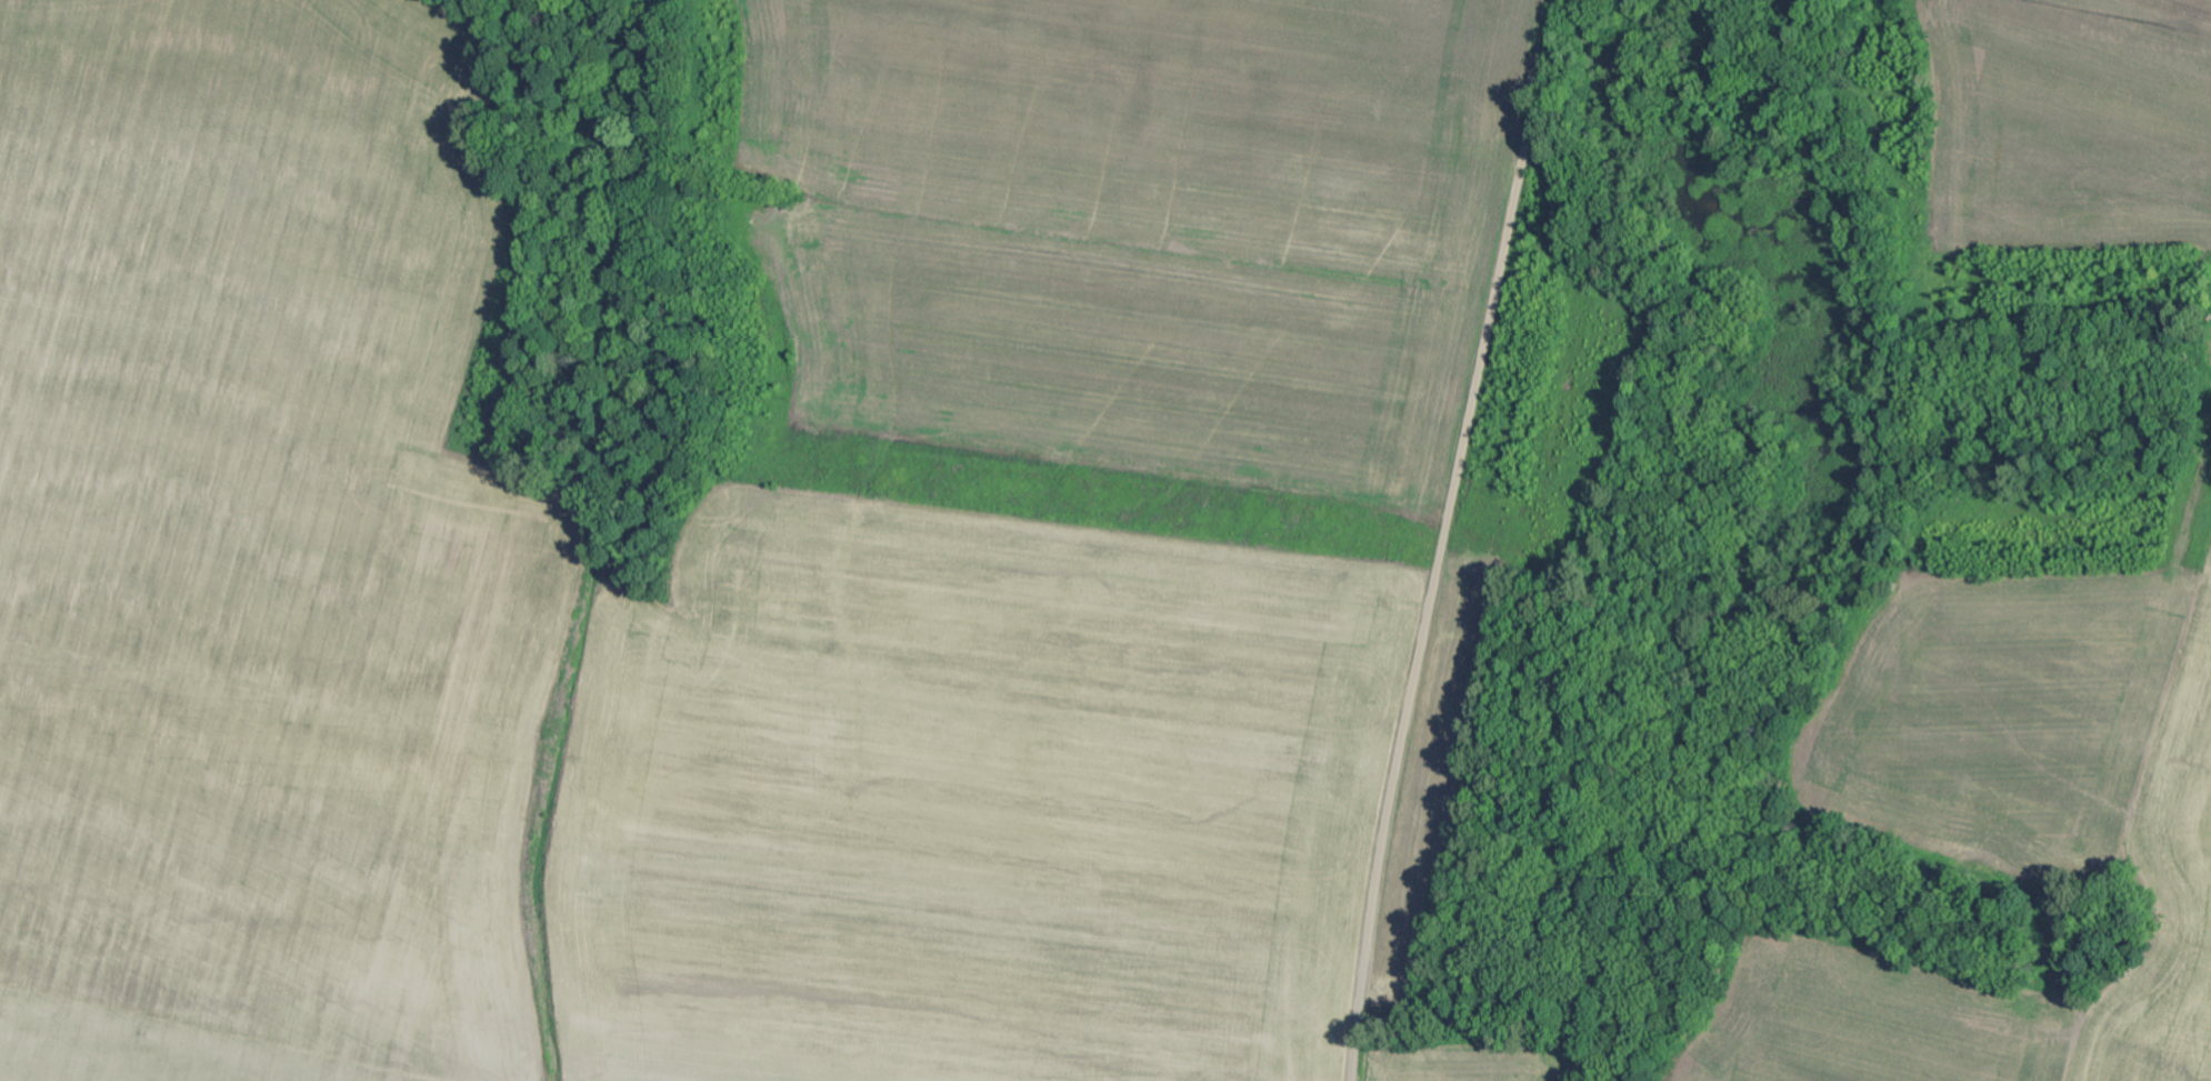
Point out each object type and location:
road: (1442, 539)

